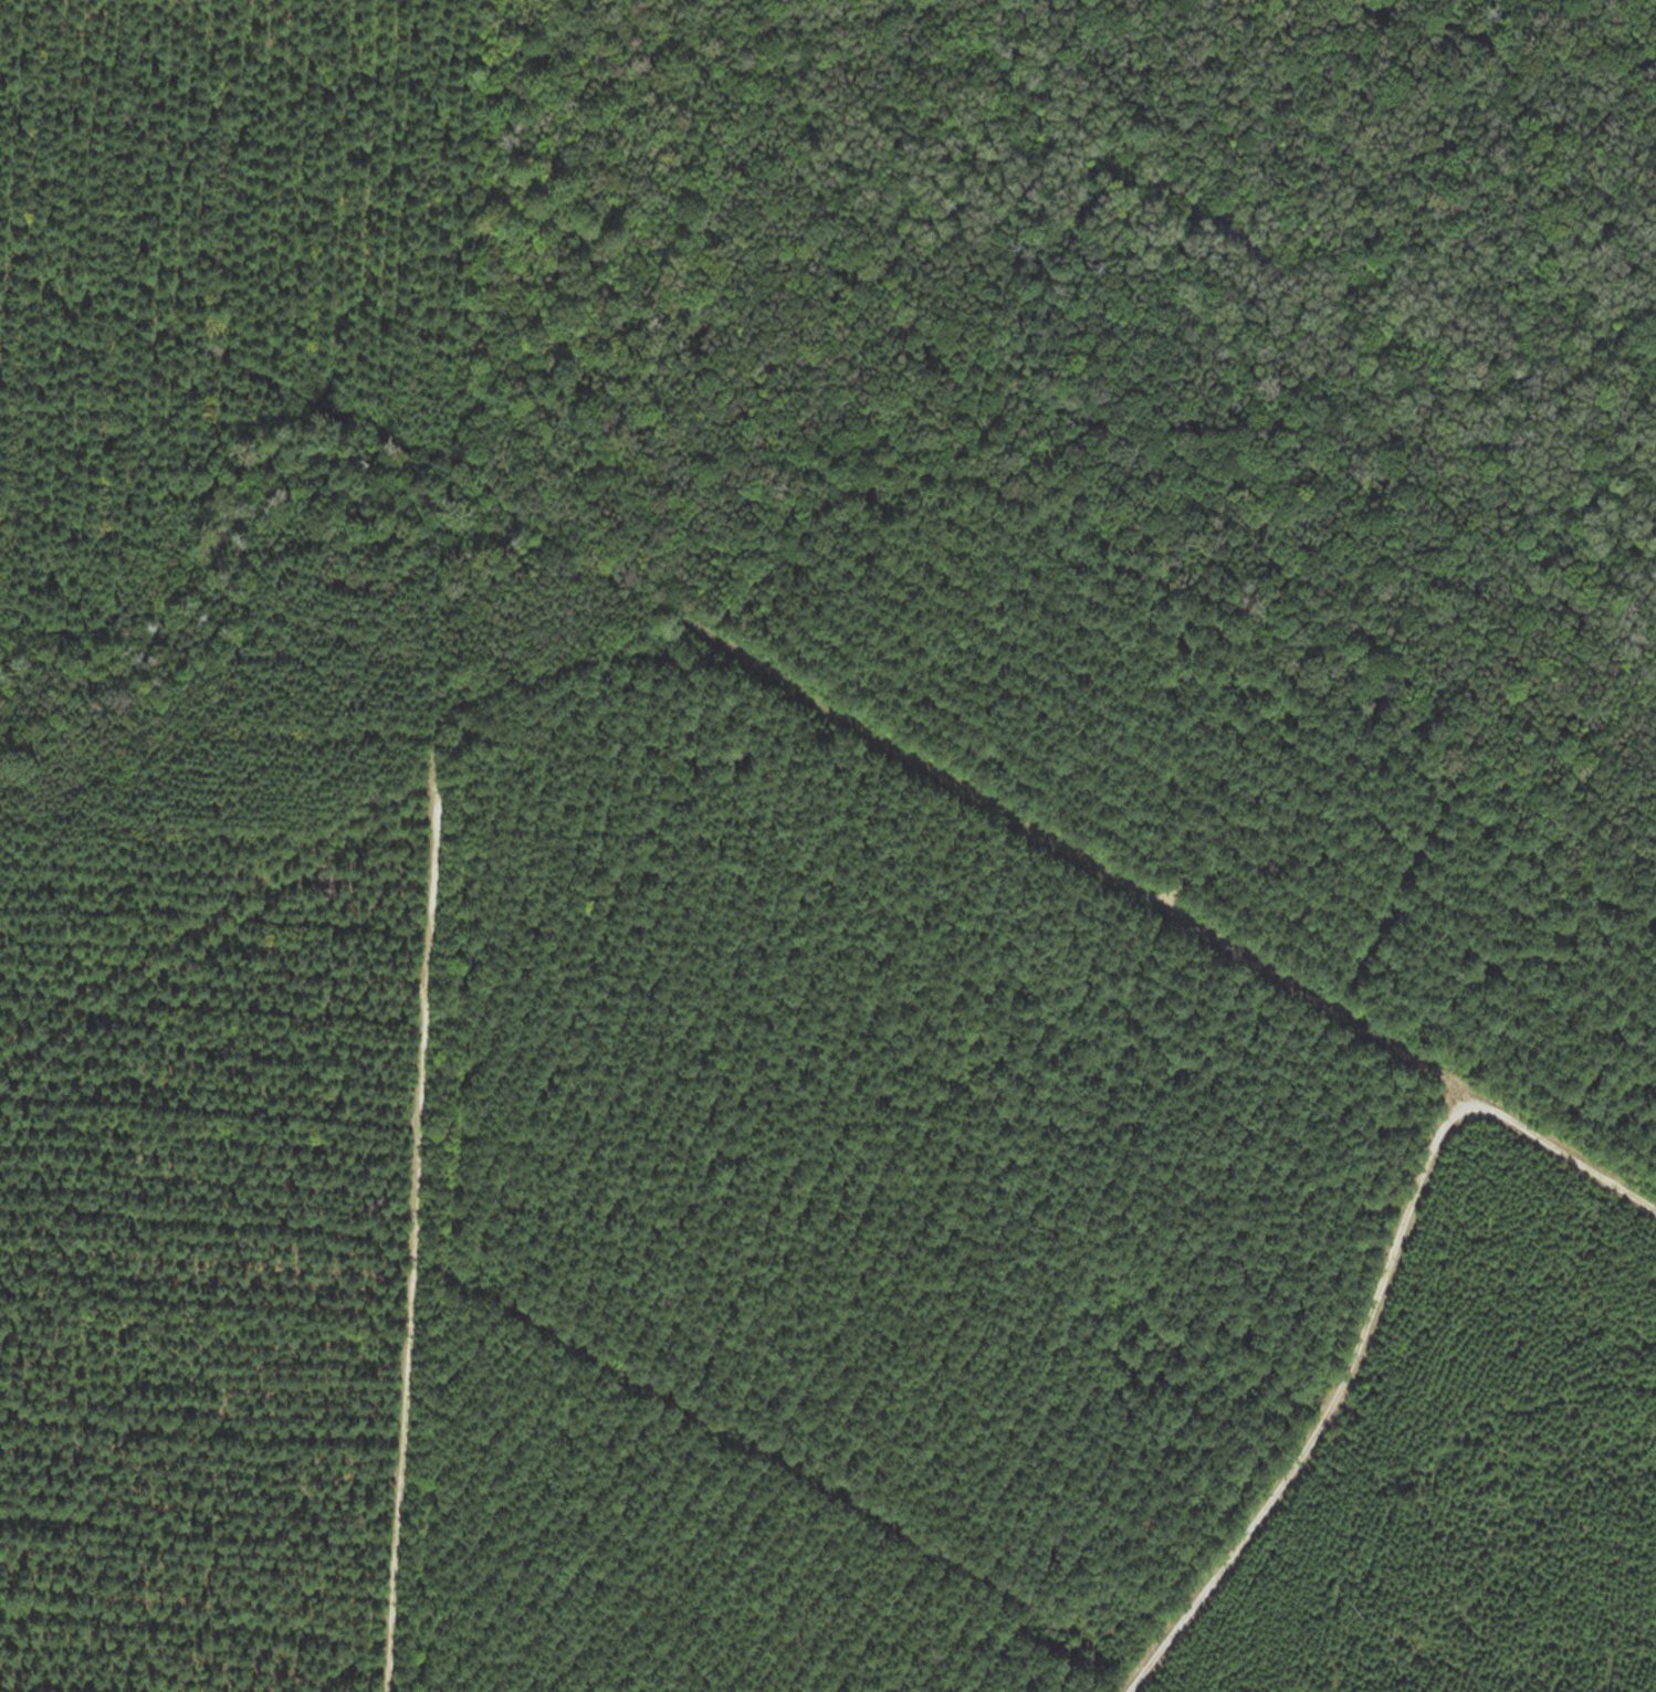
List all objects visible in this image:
road: (1373, 1321)

